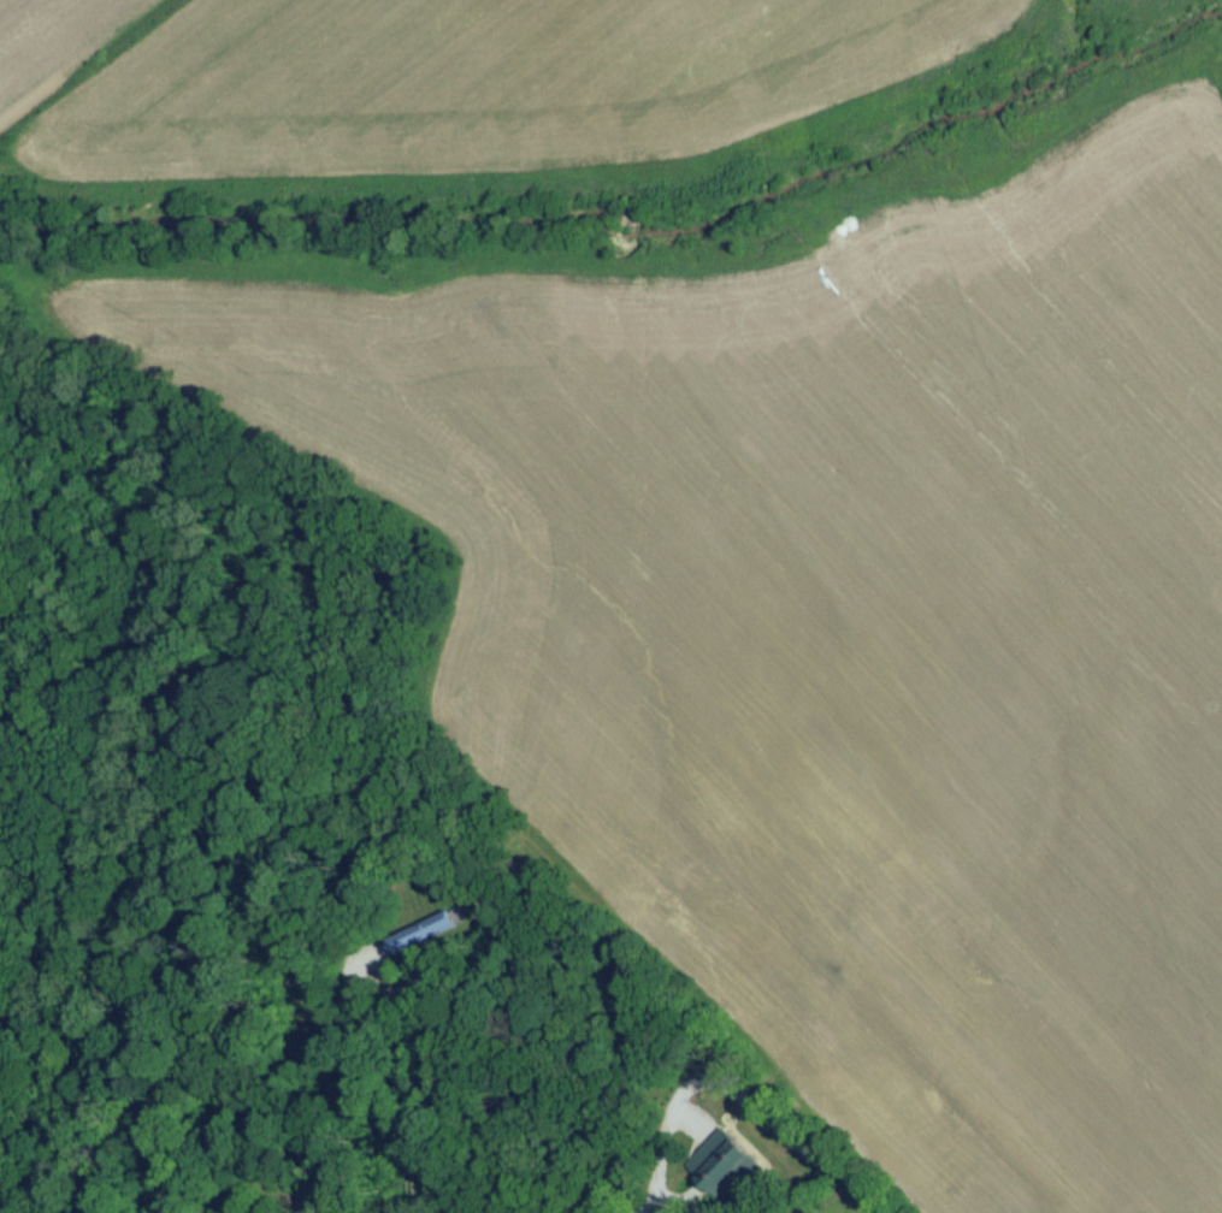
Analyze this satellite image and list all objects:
building: (419, 940)
road: (433, 1075)
road: (724, 1089)

